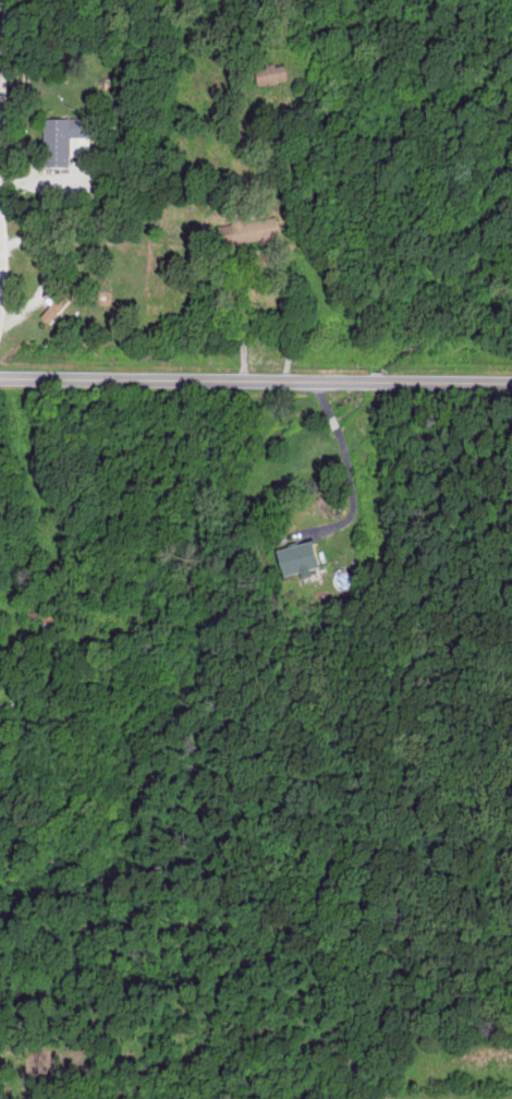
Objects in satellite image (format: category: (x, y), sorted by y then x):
building: (268, 72)
road: (1, 83)
building: (62, 137)
building: (261, 228)
road: (120, 243)
road: (259, 249)
building: (56, 302)
road: (256, 381)
road: (343, 473)
building: (293, 557)

